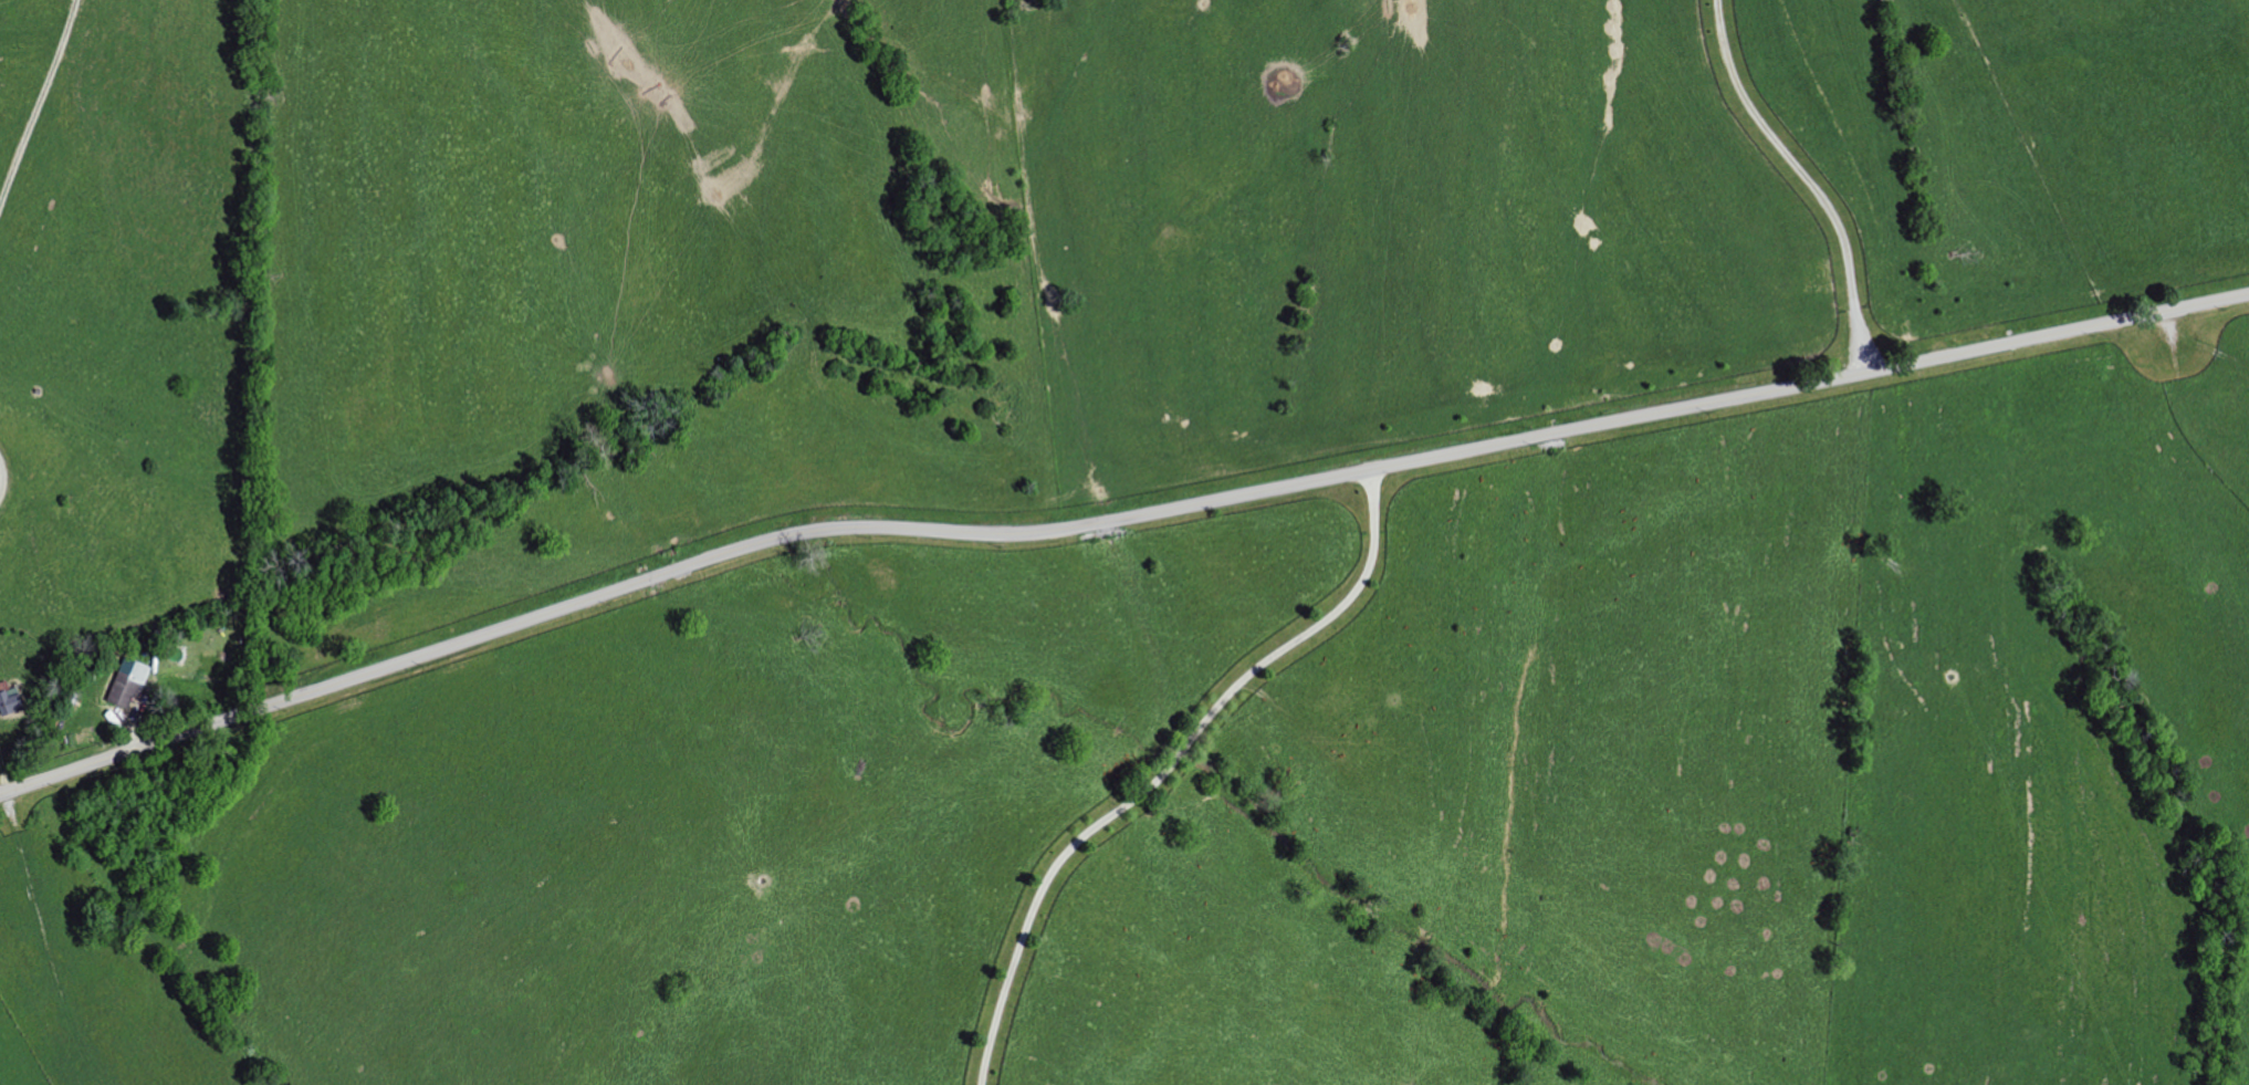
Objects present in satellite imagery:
road: (38, 101)
road: (1805, 180)
road: (1113, 522)
building: (124, 684)
building: (7, 700)
road: (1164, 768)
road: (2, 783)

